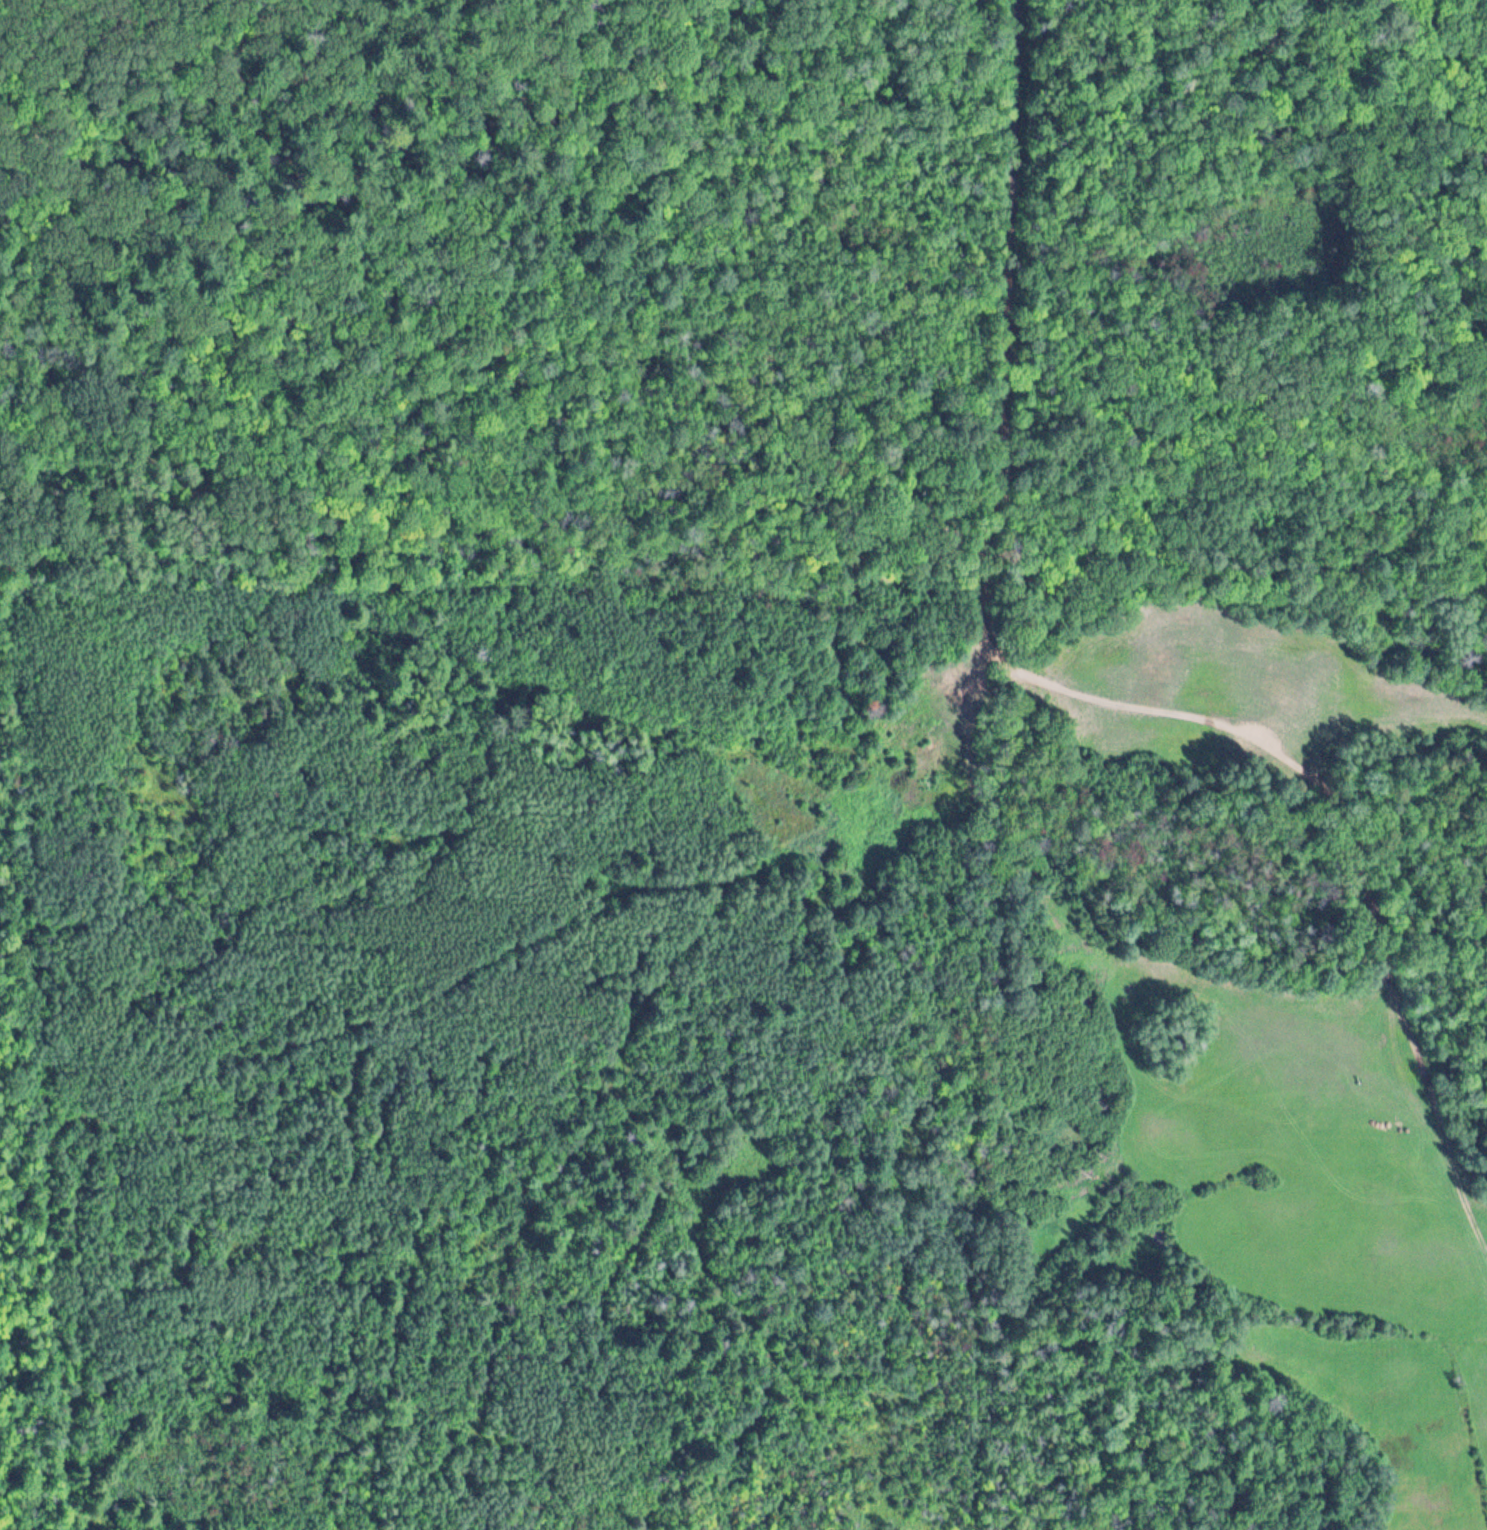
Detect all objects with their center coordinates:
road: (990, 764)
road: (1438, 1125)

